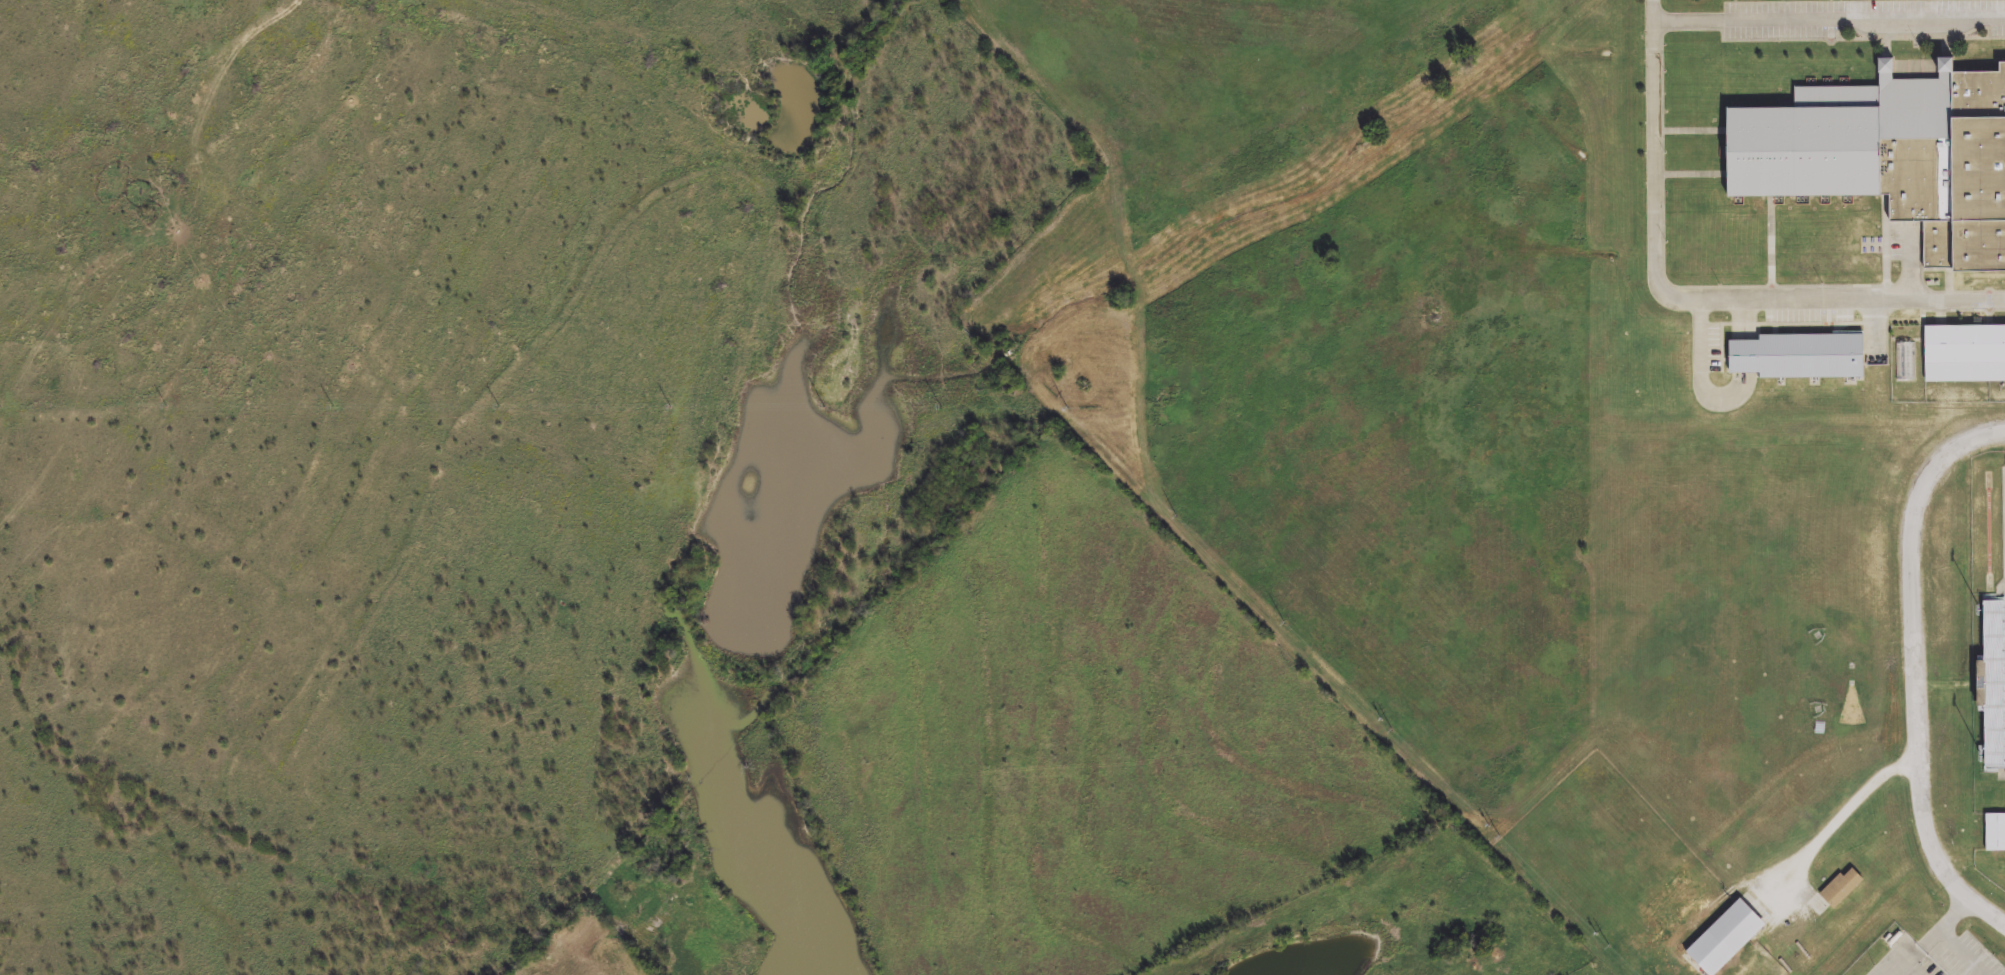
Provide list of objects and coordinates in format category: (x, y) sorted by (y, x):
road: (1819, 20)
building: (1889, 154)
road: (1696, 301)
building: (1963, 352)
building: (1798, 354)
road: (1914, 668)
road: (1848, 810)
building: (1994, 834)
building: (1841, 888)
road: (1934, 936)
building: (1723, 939)

